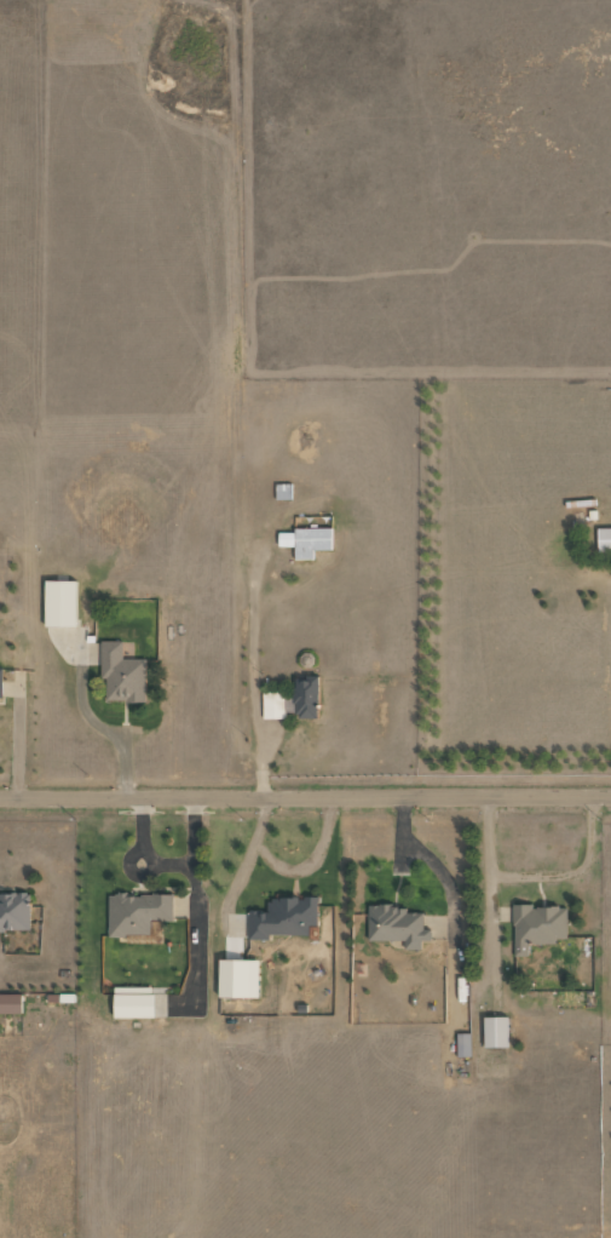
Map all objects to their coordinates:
building: (604, 539)
building: (305, 540)
building: (59, 602)
building: (121, 674)
building: (0, 680)
building: (306, 697)
road: (305, 797)
building: (15, 911)
building: (137, 912)
building: (283, 917)
building: (397, 925)
building: (537, 925)
building: (237, 978)
building: (133, 1001)
building: (10, 1003)
building: (495, 1031)
building: (462, 1044)

